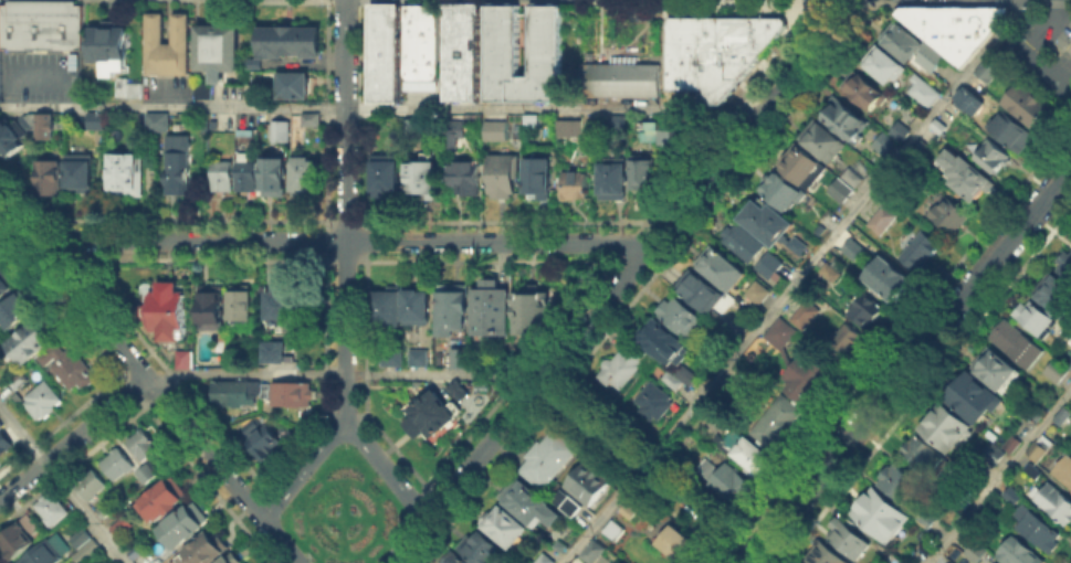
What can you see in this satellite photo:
building: (40, 24)
building: (952, 25)
building: (502, 38)
building: (420, 39)
building: (902, 41)
building: (292, 42)
building: (166, 44)
building: (113, 46)
building: (222, 47)
building: (1070, 47)
building: (384, 51)
building: (462, 51)
building: (714, 51)
road: (1026, 51)
building: (930, 56)
building: (883, 64)
building: (993, 68)
building: (623, 78)
building: (295, 87)
building: (204, 91)
building: (863, 91)
building: (133, 92)
building: (924, 93)
building: (967, 99)
building: (1028, 106)
road: (377, 108)
building: (844, 118)
building: (616, 120)
building: (98, 121)
building: (159, 124)
building: (46, 126)
building: (204, 126)
building: (943, 127)
building: (308, 129)
building: (897, 129)
building: (413, 130)
building: (454, 131)
building: (279, 132)
building: (496, 132)
building: (1011, 132)
building: (570, 135)
building: (653, 136)
building: (680, 137)
building: (13, 138)
building: (826, 142)
building: (885, 142)
building: (996, 158)
building: (179, 164)
building: (802, 168)
building: (82, 174)
building: (128, 174)
building: (849, 174)
building: (964, 174)
building: (307, 176)
building: (502, 177)
building: (250, 178)
building: (388, 178)
building: (538, 178)
building: (51, 179)
building: (224, 179)
building: (424, 179)
building: (466, 179)
building: (628, 179)
building: (275, 180)
building: (575, 185)
building: (836, 190)
building: (781, 191)
road: (344, 211)
building: (879, 217)
building: (952, 217)
building: (767, 222)
road: (343, 240)
building: (743, 245)
building: (798, 245)
building: (850, 247)
building: (917, 248)
road: (639, 259)
building: (770, 266)
building: (1067, 267)
building: (723, 270)
building: (884, 276)
road: (791, 283)
building: (7, 284)
building: (759, 295)
building: (703, 296)
building: (1058, 297)
building: (284, 302)
building: (242, 305)
building: (417, 307)
building: (210, 308)
building: (389, 310)
building: (15, 311)
building: (452, 311)
building: (491, 311)
building: (868, 311)
building: (170, 312)
building: (535, 312)
building: (801, 314)
building: (682, 318)
building: (1036, 319)
building: (270, 331)
building: (778, 331)
building: (843, 339)
building: (29, 341)
building: (664, 342)
building: (1015, 343)
building: (271, 350)
building: (51, 355)
building: (393, 358)
building: (461, 358)
road: (129, 359)
building: (185, 359)
building: (419, 359)
building: (1070, 363)
road: (909, 364)
building: (998, 369)
building: (1052, 371)
building: (76, 372)
road: (342, 372)
building: (619, 372)
building: (686, 375)
building: (17, 379)
building: (671, 380)
building: (811, 381)
building: (240, 395)
building: (295, 395)
building: (974, 397)
building: (45, 400)
building: (654, 402)
building: (437, 411)
building: (1064, 417)
building: (775, 421)
building: (1, 424)
building: (948, 429)
road: (72, 437)
building: (3, 442)
building: (263, 443)
building: (1014, 443)
building: (145, 445)
building: (1037, 447)
building: (744, 449)
building: (921, 453)
building: (993, 458)
building: (550, 460)
building: (116, 465)
road: (301, 468)
road: (385, 468)
building: (1031, 469)
building: (1063, 469)
road: (651, 470)
building: (148, 472)
road: (1000, 477)
building: (584, 482)
building: (728, 482)
building: (896, 482)
road: (62, 486)
building: (92, 486)
building: (1010, 493)
building: (165, 499)
building: (564, 501)
building: (1057, 504)
building: (533, 506)
building: (55, 508)
building: (624, 509)
building: (108, 511)
building: (882, 514)
building: (122, 525)
building: (185, 528)
building: (506, 528)
building: (609, 530)
building: (1042, 533)
building: (19, 537)
building: (77, 537)
building: (848, 539)
road: (279, 540)
road: (407, 540)
building: (673, 541)
building: (85, 546)
building: (589, 549)
building: (485, 550)
building: (204, 551)
building: (975, 552)
building: (49, 553)
building: (1021, 554)
building: (825, 555)
building: (454, 559)
building: (539, 559)
building: (228, 560)
building: (893, 561)
building: (870, 562)
building: (991, 562)

